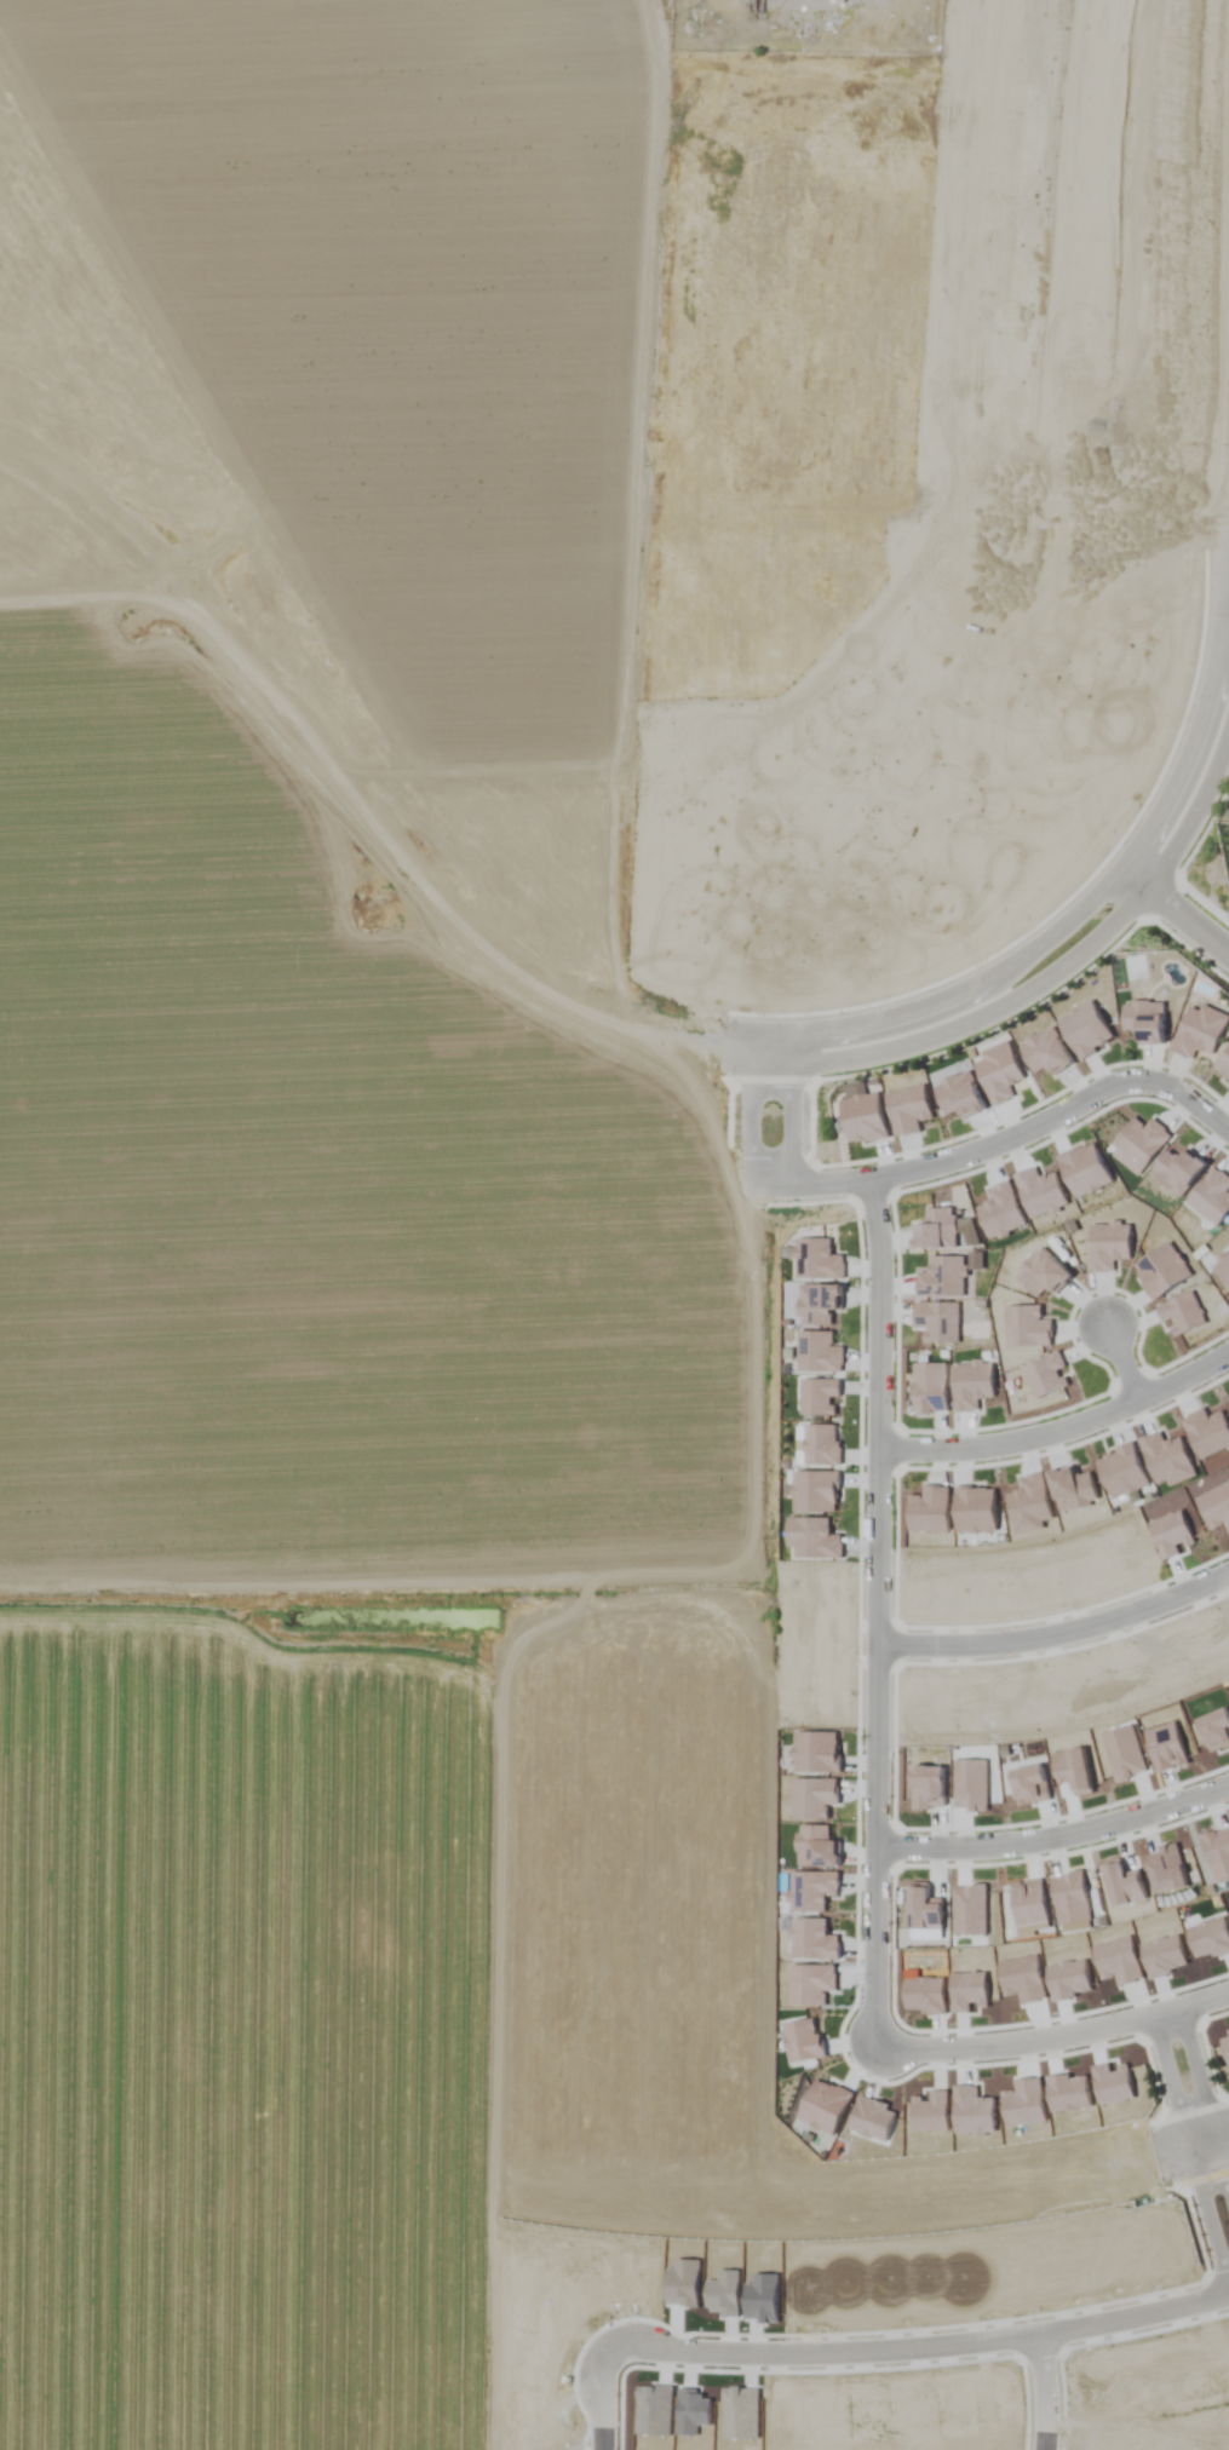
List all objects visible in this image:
road: (1224, 551)
road: (1227, 570)
road: (1092, 899)
road: (1175, 916)
road: (1045, 980)
road: (759, 1048)
road: (796, 1049)
road: (1056, 1116)
road: (754, 1125)
road: (792, 1127)
road: (811, 1185)
crop: (614, 1225)
road: (1118, 1368)
road: (1058, 1433)
road: (872, 1615)
road: (1055, 1634)
road: (1051, 1837)
road: (1050, 2038)
road: (1199, 2116)
road: (1202, 2126)
road: (1184, 2158)
road: (1207, 2158)
road: (924, 2358)
road: (1039, 2396)
road: (610, 2406)

